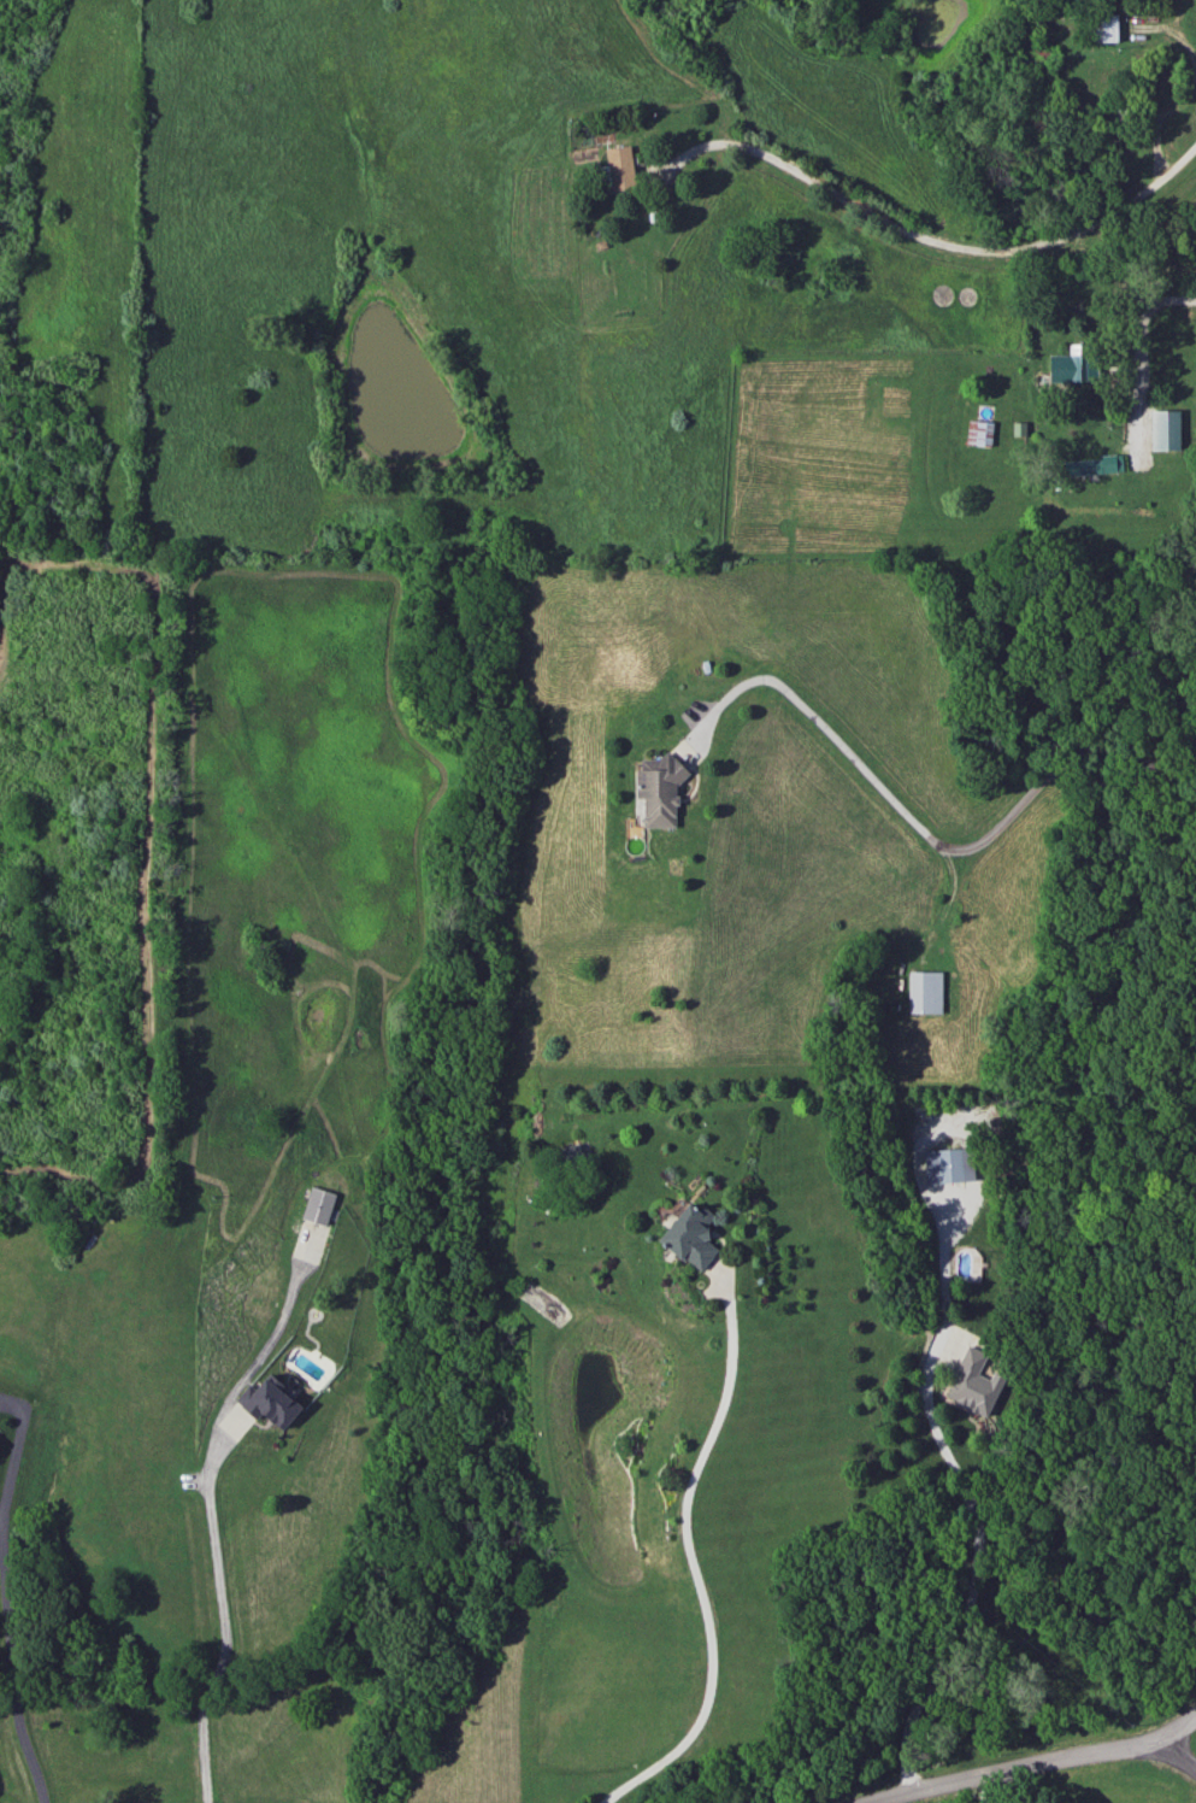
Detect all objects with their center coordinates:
building: (1107, 27)
building: (619, 168)
road: (941, 242)
road: (1136, 324)
building: (1071, 365)
building: (1163, 429)
building: (978, 431)
building: (1092, 465)
building: (658, 789)
road: (925, 833)
building: (924, 991)
building: (948, 1164)
building: (317, 1205)
building: (690, 1235)
building: (972, 1382)
building: (267, 1400)
road: (689, 1560)
road: (966, 1574)
road: (225, 1615)
road: (7, 1660)
road: (1167, 1734)
road: (1036, 1764)
road: (976, 1789)

